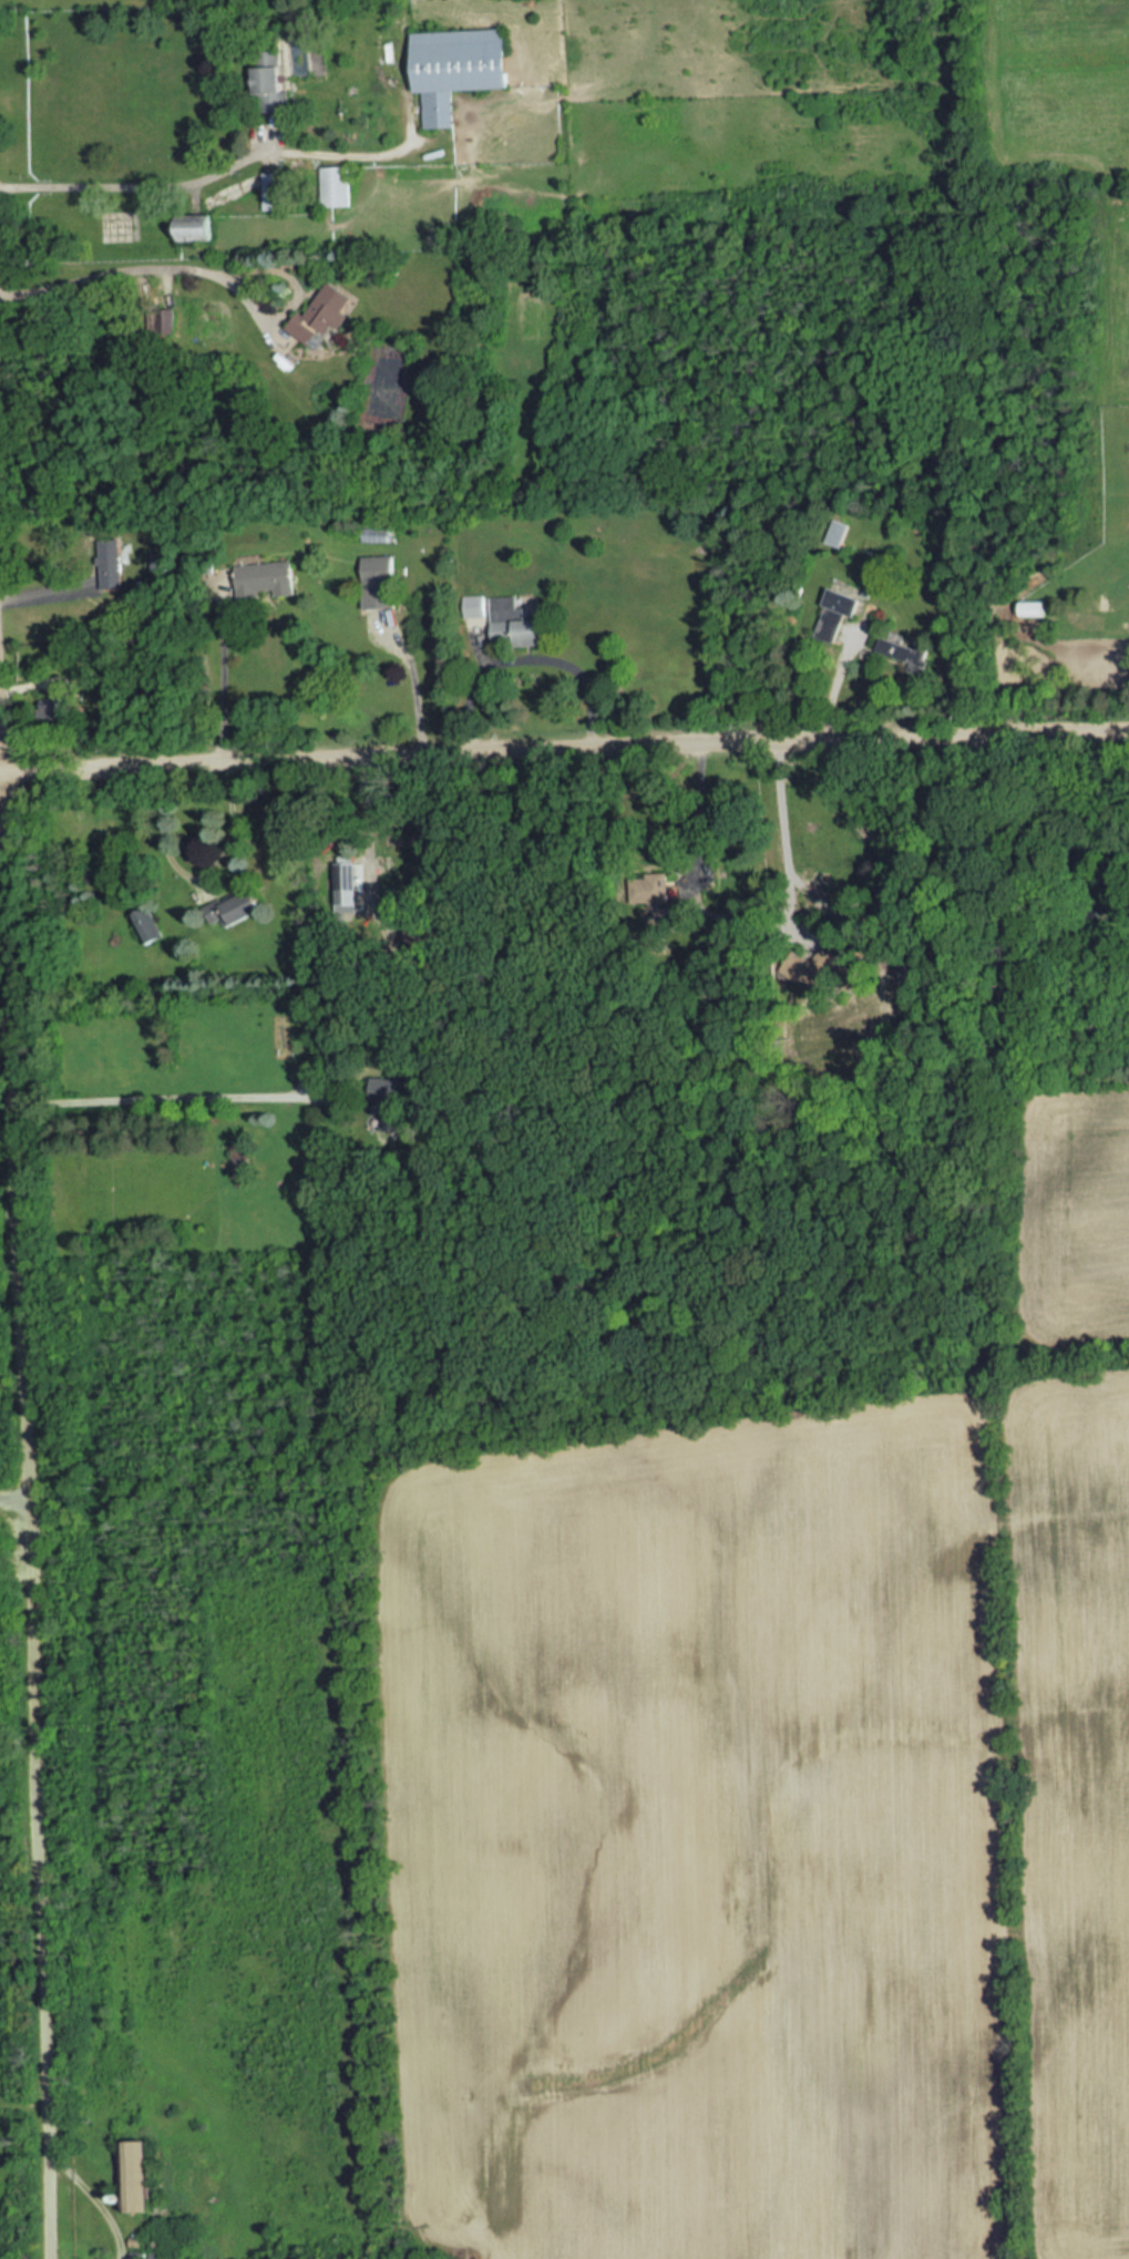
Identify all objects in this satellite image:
building: (456, 66)
building: (267, 79)
crop: (1067, 126)
road: (337, 156)
building: (336, 184)
road: (130, 186)
building: (274, 188)
building: (197, 229)
road: (109, 276)
road: (295, 302)
building: (322, 314)
building: (165, 318)
building: (839, 534)
building: (111, 563)
building: (378, 566)
building: (265, 577)
building: (473, 604)
building: (1032, 604)
building: (835, 612)
building: (512, 620)
building: (909, 653)
road: (524, 665)
road: (225, 675)
road: (417, 684)
road: (835, 684)
road: (564, 750)
road: (700, 811)
road: (234, 824)
road: (368, 826)
road: (787, 840)
building: (647, 881)
building: (339, 902)
building: (235, 906)
building: (146, 923)
building: (433, 927)
building: (814, 963)
building: (388, 1088)
road: (162, 1101)
building: (239, 1154)
road: (28, 1476)
road: (14, 1510)
building: (134, 2174)

